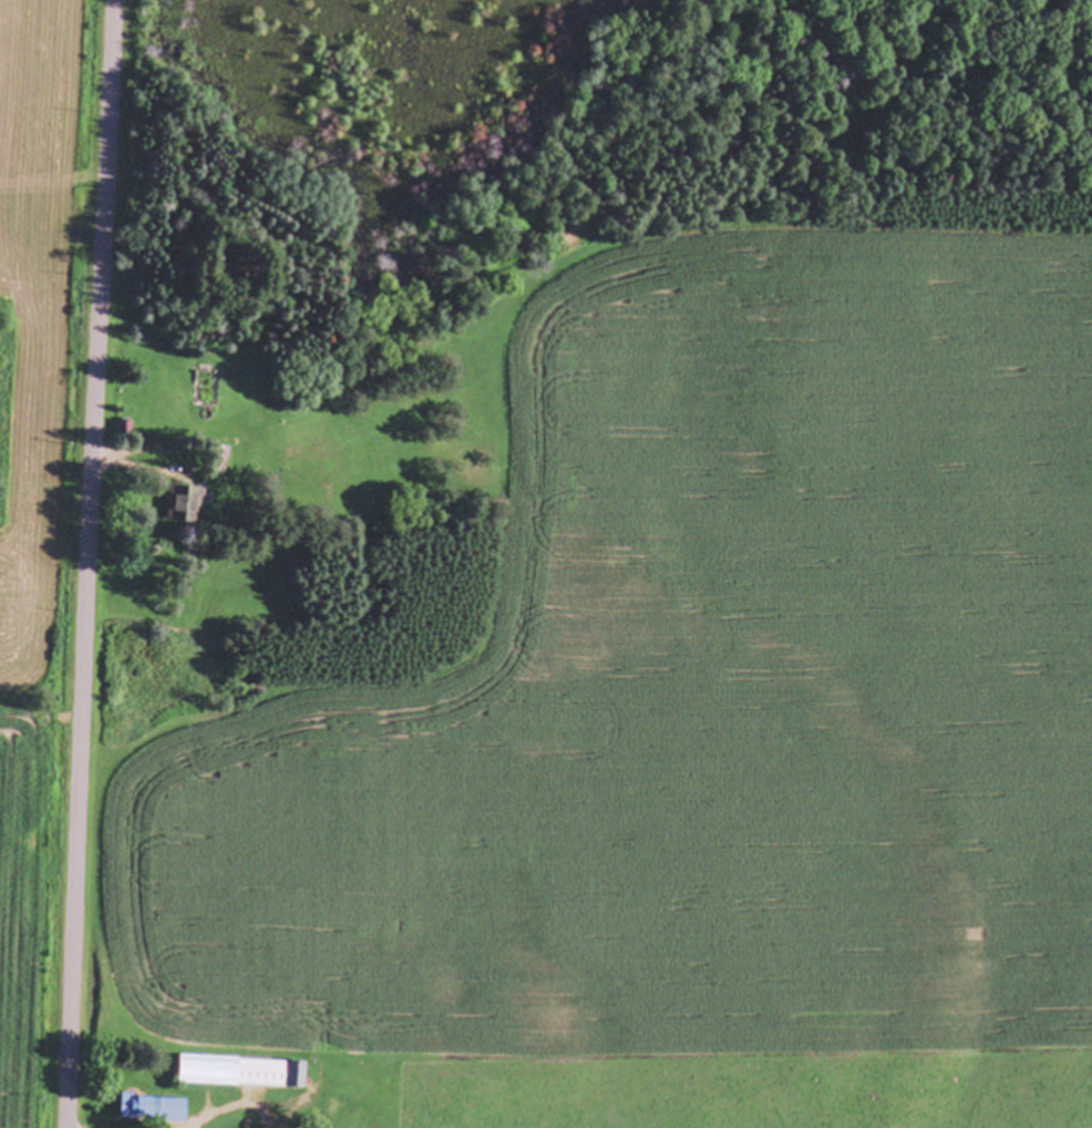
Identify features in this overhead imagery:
building: (132, 398)
building: (220, 460)
road: (127, 462)
building: (185, 503)
road: (89, 563)
building: (236, 1073)
building: (151, 1109)

